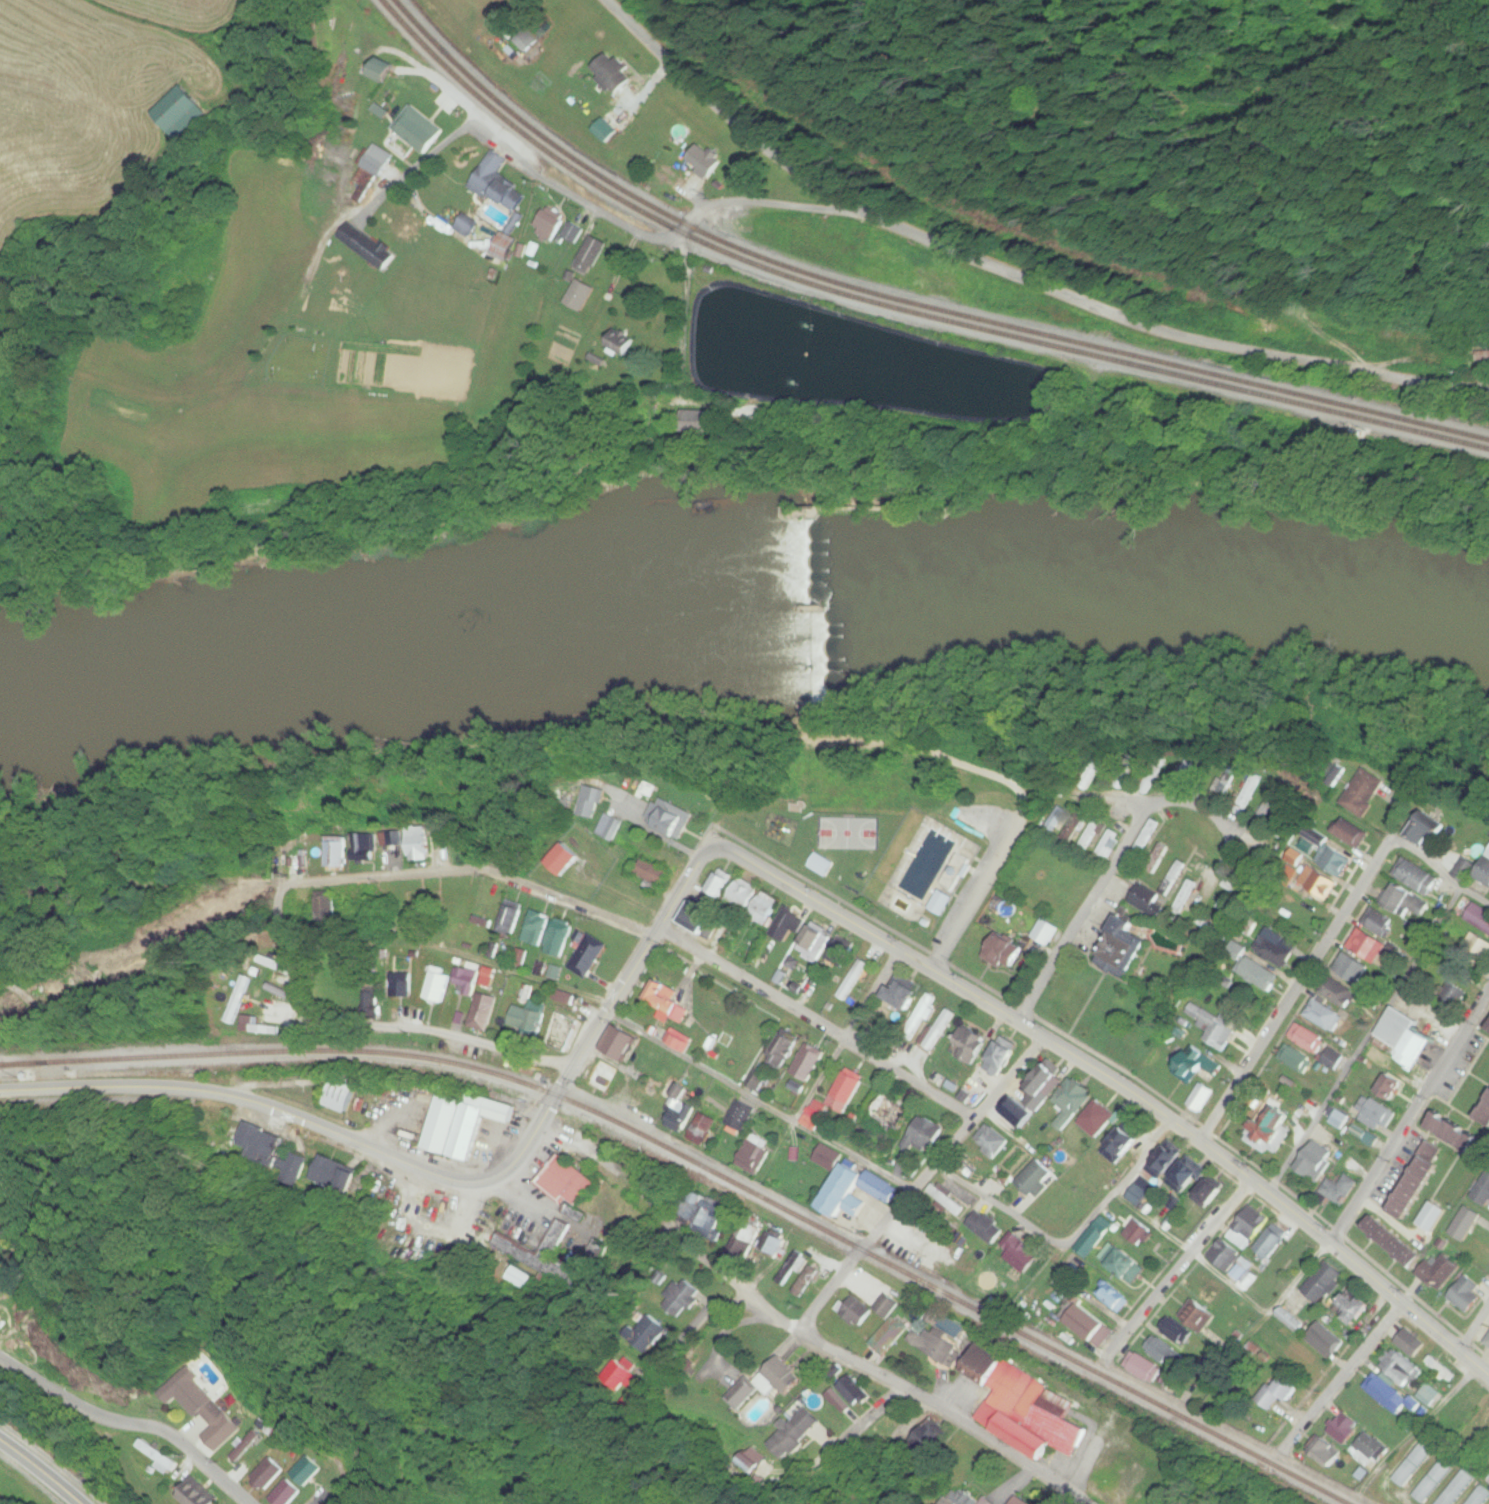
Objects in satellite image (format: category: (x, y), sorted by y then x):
building: (546, 29)
building: (527, 41)
building: (381, 71)
building: (613, 73)
building: (418, 129)
building: (704, 160)
building: (377, 161)
building: (497, 184)
road: (588, 207)
building: (549, 224)
building: (573, 232)
building: (504, 247)
road: (1011, 253)
building: (589, 255)
building: (579, 295)
railway: (904, 299)
railway: (897, 308)
building: (621, 344)
building: (704, 422)
dam: (806, 607)
river: (744, 620)
building: (1153, 773)
building: (1181, 776)
building: (1119, 780)
building: (1223, 786)
building: (1249, 793)
building: (1364, 793)
building: (592, 802)
road: (1148, 810)
building: (1268, 810)
building: (669, 817)
building: (1055, 819)
park: (898, 827)
building: (614, 829)
building: (1426, 829)
park: (854, 832)
building: (1090, 833)
building: (1349, 835)
building: (1146, 836)
building: (420, 843)
building: (1107, 844)
building: (337, 851)
building: (1156, 858)
building: (561, 859)
building: (1334, 860)
building: (827, 864)
building: (1465, 870)
building: (956, 872)
building: (1485, 873)
building: (652, 875)
building: (1415, 877)
building: (1318, 884)
building: (719, 886)
building: (1143, 889)
building: (1236, 890)
road: (980, 893)
building: (742, 895)
building: (1184, 895)
building: (424, 898)
building: (1401, 900)
building: (946, 903)
building: (463, 904)
building: (323, 905)
building: (764, 909)
building: (509, 919)
building: (699, 919)
building: (1377, 923)
building: (787, 926)
building: (536, 928)
building: (1045, 932)
road: (1333, 937)
building: (559, 938)
road: (677, 940)
building: (814, 945)
building: (1366, 945)
building: (1275, 948)
building: (1123, 949)
building: (1002, 953)
building: (839, 954)
building: (589, 956)
building: (275, 965)
building: (1349, 967)
building: (1258, 974)
building: (487, 977)
building: (466, 980)
building: (850, 984)
building: (402, 986)
building: (436, 986)
road: (1038, 992)
building: (1338, 992)
building: (368, 996)
building: (1454, 997)
building: (902, 998)
building: (668, 1003)
building: (232, 1004)
building: (481, 1014)
building: (921, 1014)
building: (1324, 1016)
building: (525, 1020)
road: (347, 1026)
building: (564, 1026)
building: (256, 1027)
building: (939, 1028)
building: (1214, 1029)
building: (759, 1033)
road: (847, 1036)
building: (1404, 1037)
building: (1306, 1038)
building: (680, 1041)
building: (620, 1045)
building: (968, 1045)
building: (1002, 1055)
building: (1295, 1059)
building: (1201, 1063)
railway: (17, 1065)
building: (730, 1065)
building: (809, 1065)
road: (1107, 1076)
building: (756, 1079)
building: (601, 1080)
building: (1042, 1085)
building: (1389, 1087)
building: (846, 1092)
building: (341, 1094)
building: (1201, 1098)
road: (760, 1100)
building: (1072, 1101)
building: (1018, 1111)
building: (680, 1112)
building: (1375, 1112)
building: (1485, 1114)
building: (741, 1116)
building: (890, 1118)
building: (1098, 1118)
road: (1410, 1119)
building: (813, 1120)
building: (462, 1124)
building: (704, 1125)
building: (1272, 1131)
building: (928, 1133)
building: (1454, 1133)
road: (1205, 1135)
building: (229, 1140)
building: (992, 1140)
building: (1123, 1142)
building: (262, 1146)
building: (754, 1156)
building: (829, 1157)
building: (294, 1167)
building: (1310, 1167)
railway: (702, 1169)
road: (426, 1172)
building: (329, 1174)
building: (1187, 1174)
building: (1037, 1179)
building: (1417, 1182)
road: (919, 1183)
building: (567, 1185)
building: (856, 1188)
building: (1337, 1189)
building: (1482, 1191)
building: (1208, 1193)
building: (946, 1199)
building: (701, 1214)
building: (1465, 1224)
building: (987, 1227)
road: (0, 1228)
building: (1248, 1228)
building: (1, 1230)
building: (1140, 1233)
building: (1, 1239)
building: (740, 1239)
road: (1070, 1240)
building: (1093, 1241)
building: (1393, 1242)
building: (772, 1244)
building: (1269, 1244)
building: (1021, 1253)
road: (1269, 1255)
building: (532, 1257)
building: (1125, 1263)
building: (792, 1267)
building: (1238, 1268)
building: (1440, 1272)
road: (1179, 1275)
building: (522, 1277)
building: (805, 1283)
building: (1323, 1283)
building: (1209, 1294)
building: (1466, 1295)
building: (1114, 1297)
building: (680, 1298)
building: (887, 1306)
building: (1352, 1308)
building: (855, 1311)
building: (1199, 1317)
building: (1092, 1327)
road: (694, 1330)
building: (1177, 1331)
building: (647, 1333)
building: (889, 1336)
building: (1324, 1340)
building: (1487, 1342)
building: (1410, 1343)
building: (936, 1346)
road: (1483, 1351)
building: (1161, 1352)
building: (1144, 1368)
building: (1399, 1368)
building: (1440, 1369)
building: (620, 1373)
road: (880, 1376)
building: (779, 1379)
road: (1340, 1381)
building: (853, 1391)
building: (1282, 1392)
building: (1387, 1395)
building: (1428, 1395)
building: (743, 1396)
building: (194, 1398)
building: (1025, 1407)
building: (832, 1408)
building: (1484, 1424)
road: (130, 1425)
road: (1415, 1430)
building: (1344, 1431)
building: (794, 1435)
road: (1239, 1437)
building: (928, 1441)
building: (1368, 1450)
building: (1328, 1452)
building: (751, 1459)
building: (1414, 1462)
building: (162, 1463)
road: (42, 1469)
building: (306, 1472)
building: (266, 1475)
building: (1434, 1479)
building: (1457, 1489)
building: (964, 1497)
building: (1480, 1497)
building: (1018, 1501)

